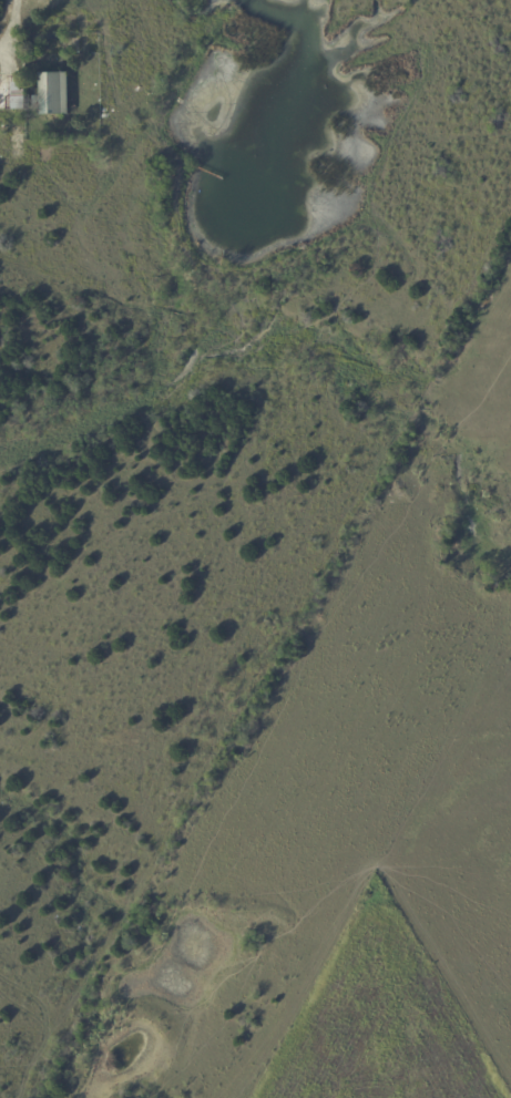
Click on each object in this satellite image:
road: (11, 20)
building: (54, 95)
building: (13, 96)
building: (19, 140)

